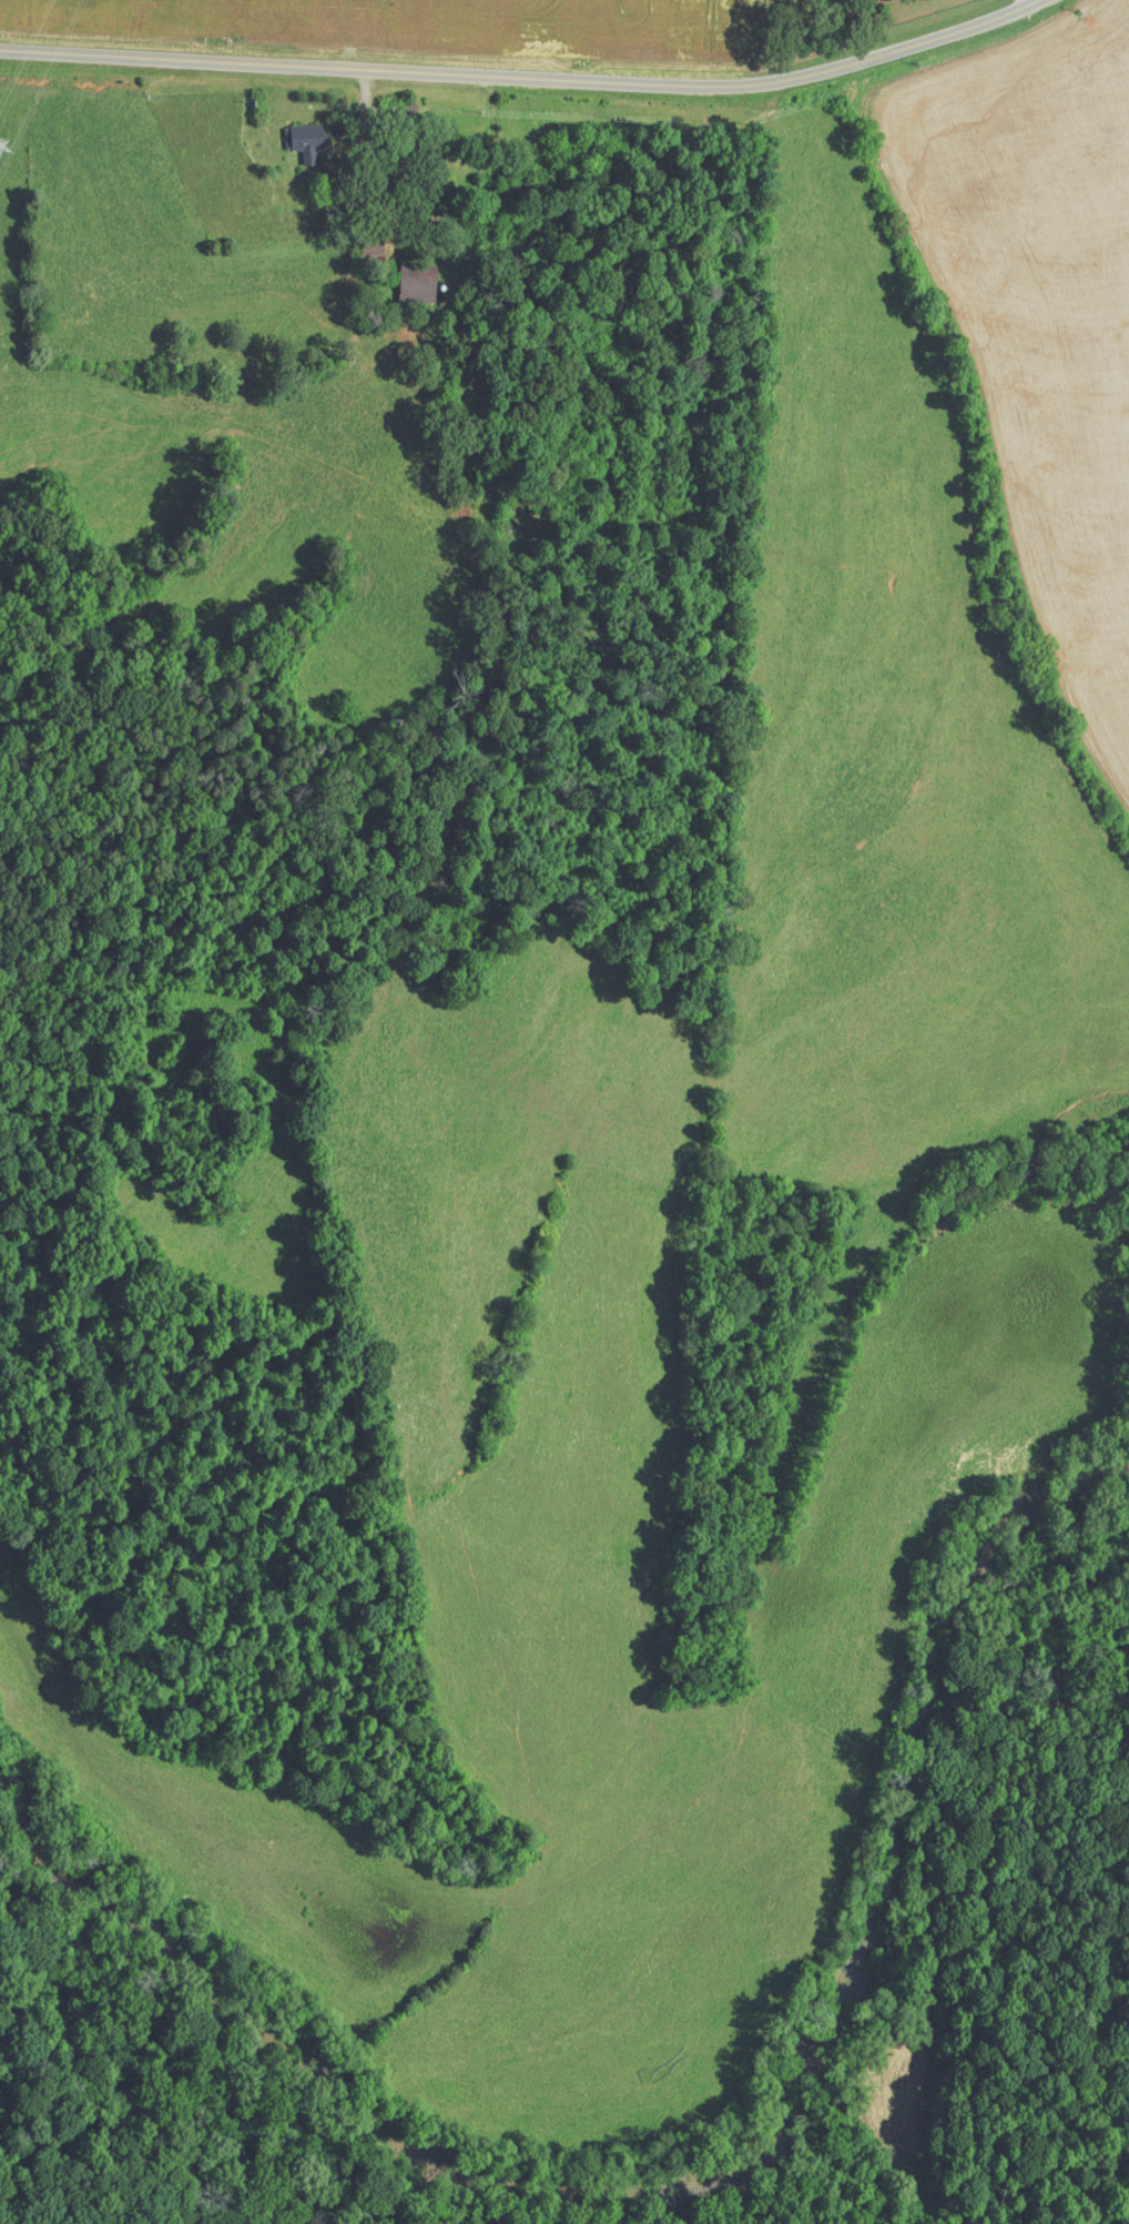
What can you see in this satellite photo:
road: (1029, 1)
road: (525, 74)
building: (305, 140)
building: (417, 281)

